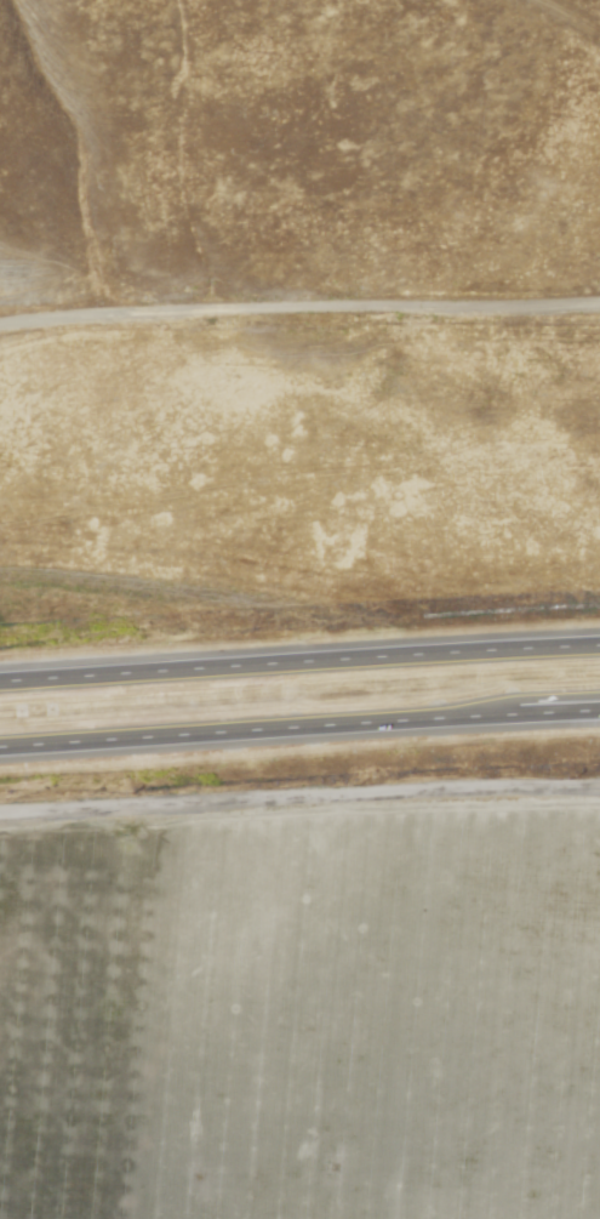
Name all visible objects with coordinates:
road: (299, 309)
road: (299, 660)
road: (299, 727)
road: (299, 794)
crop: (302, 1019)

